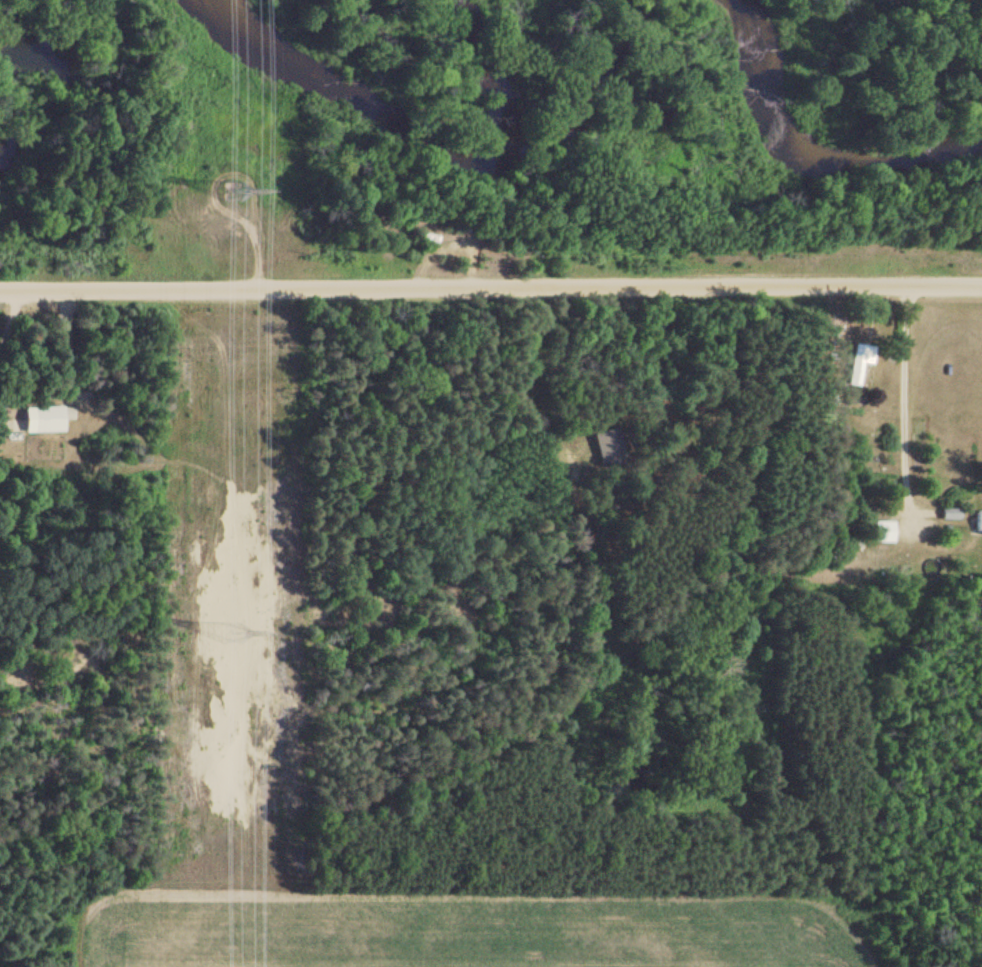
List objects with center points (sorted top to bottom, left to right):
river: (423, 145)
river: (805, 155)
power tower: (232, 187)
road: (491, 287)
building: (858, 362)
building: (46, 419)
building: (608, 447)
building: (950, 513)
power tower: (233, 627)

